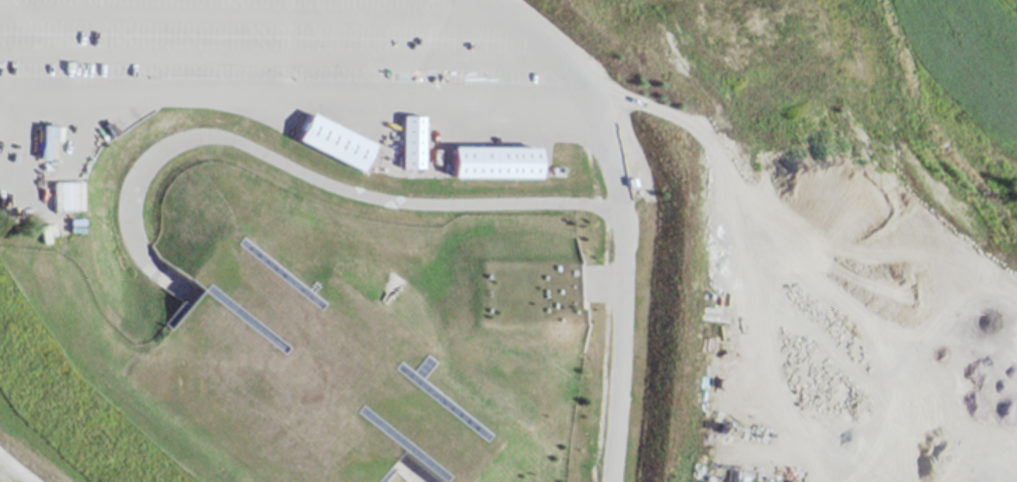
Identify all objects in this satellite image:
road: (245, 12)
road: (531, 44)
road: (290, 102)
road: (301, 172)
road: (614, 289)
road: (16, 461)
road: (409, 473)

